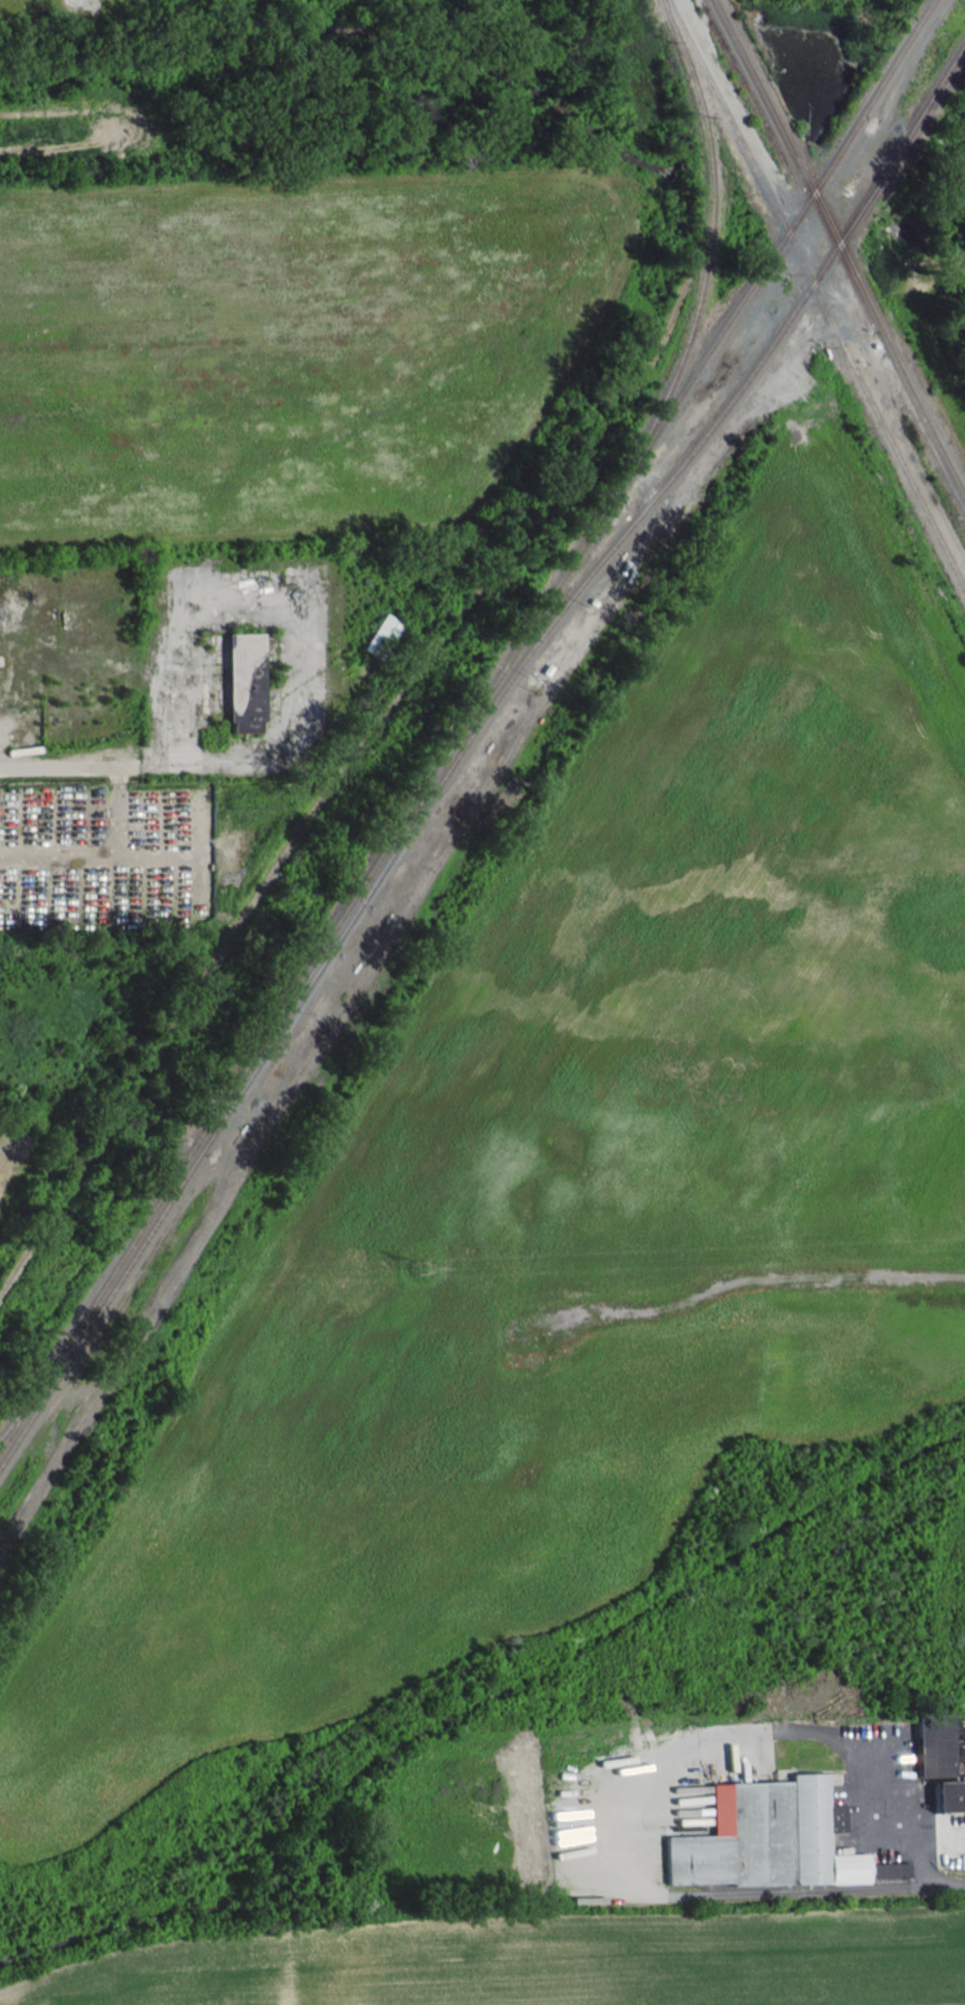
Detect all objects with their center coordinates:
railway: (962, 45)
railway: (837, 251)
railway: (701, 274)
railway: (815, 297)
crop: (290, 342)
building: (379, 636)
building: (244, 681)
railway: (465, 722)
railway: (462, 744)
railway: (346, 756)
road: (123, 764)
railway: (409, 818)
railway: (274, 1027)
crop: (582, 1186)
power tower: (418, 1266)
railway: (23, 1404)
building: (938, 1762)
building: (769, 1838)
road: (939, 1885)
crop: (545, 1967)

